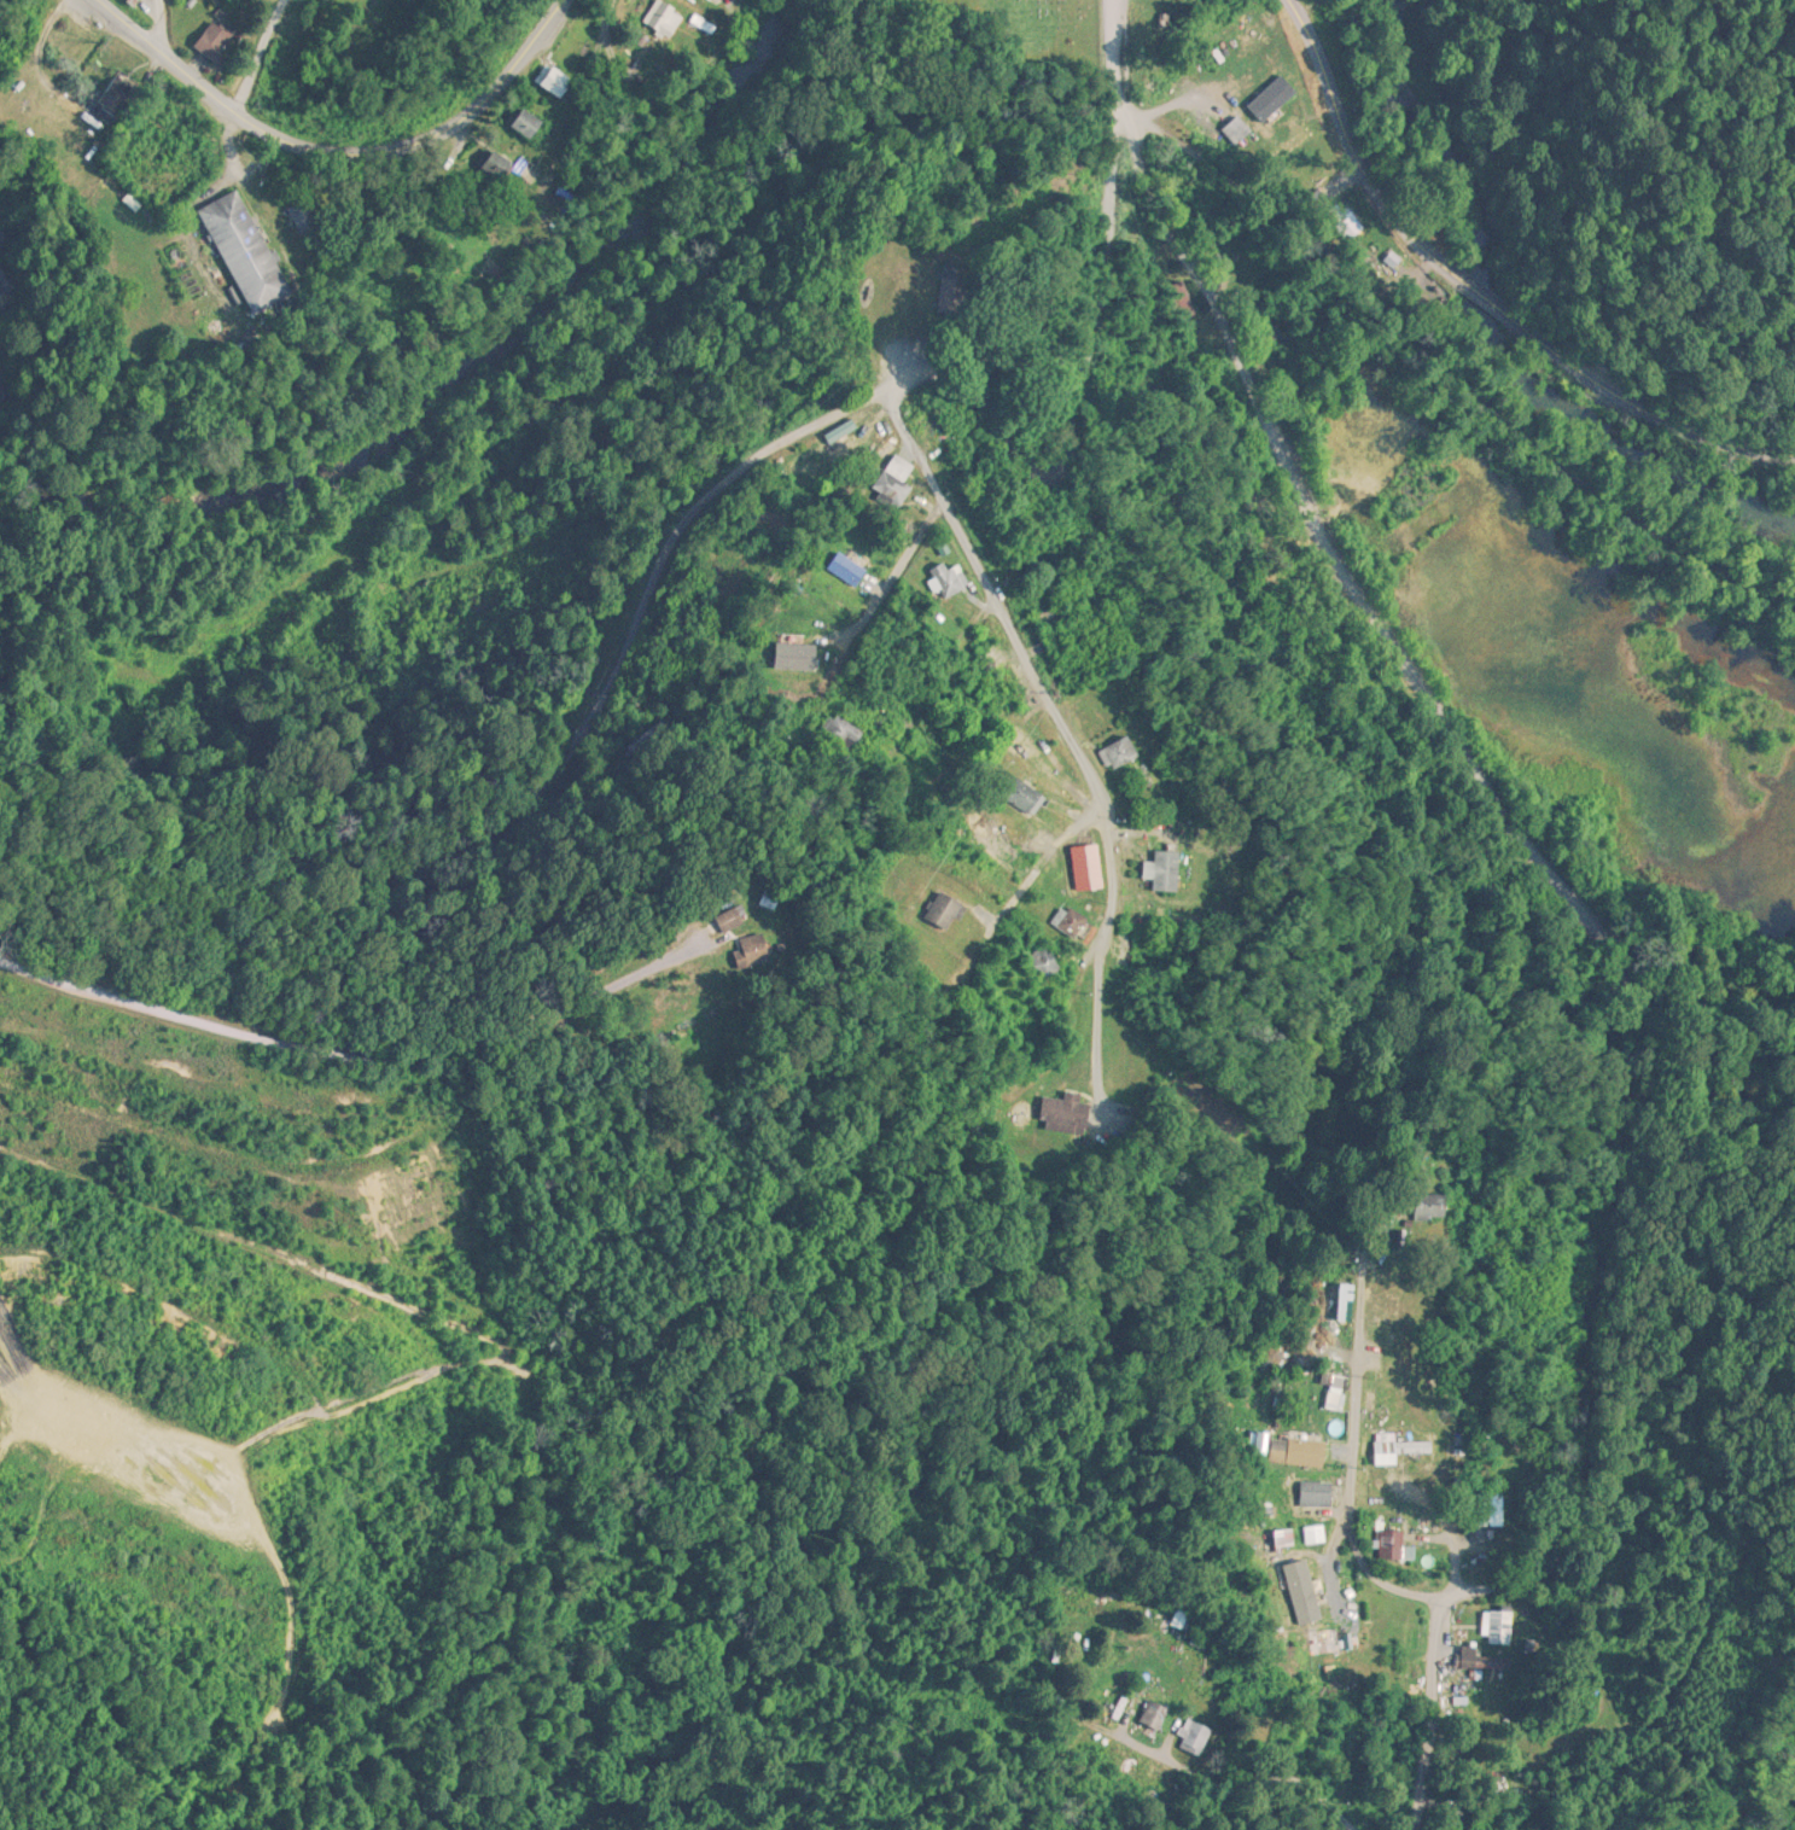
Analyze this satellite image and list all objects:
road: (159, 23)
building: (670, 23)
building: (217, 45)
building: (1260, 47)
road: (266, 53)
road: (703, 71)
building: (555, 82)
building: (118, 98)
building: (530, 127)
building: (1296, 145)
road: (340, 151)
road: (1356, 165)
building: (500, 168)
building: (1335, 218)
building: (251, 253)
building: (963, 295)
building: (1178, 303)
road: (1493, 304)
road: (1114, 324)
road: (1610, 390)
road: (1762, 450)
building: (890, 490)
building: (847, 571)
building: (949, 582)
road: (997, 596)
building: (826, 629)
building: (1055, 630)
building: (840, 735)
road: (961, 735)
building: (1123, 753)
road: (571, 793)
building: (1024, 795)
building: (992, 832)
road: (1543, 861)
road: (1044, 866)
building: (1170, 870)
building: (739, 919)
building: (1073, 922)
road: (1112, 950)
building: (758, 951)
building: (1048, 966)
road: (356, 1047)
building: (1067, 1114)
building: (1433, 1206)
road: (261, 1246)
road: (1350, 1443)
building: (1404, 1450)
building: (1296, 1461)
building: (1317, 1496)
building: (1395, 1546)
building: (1184, 1619)
building: (1327, 1643)
building: (1485, 1659)
road: (1428, 1713)
building: (1155, 1715)
building: (1194, 1737)
road: (1255, 1765)

